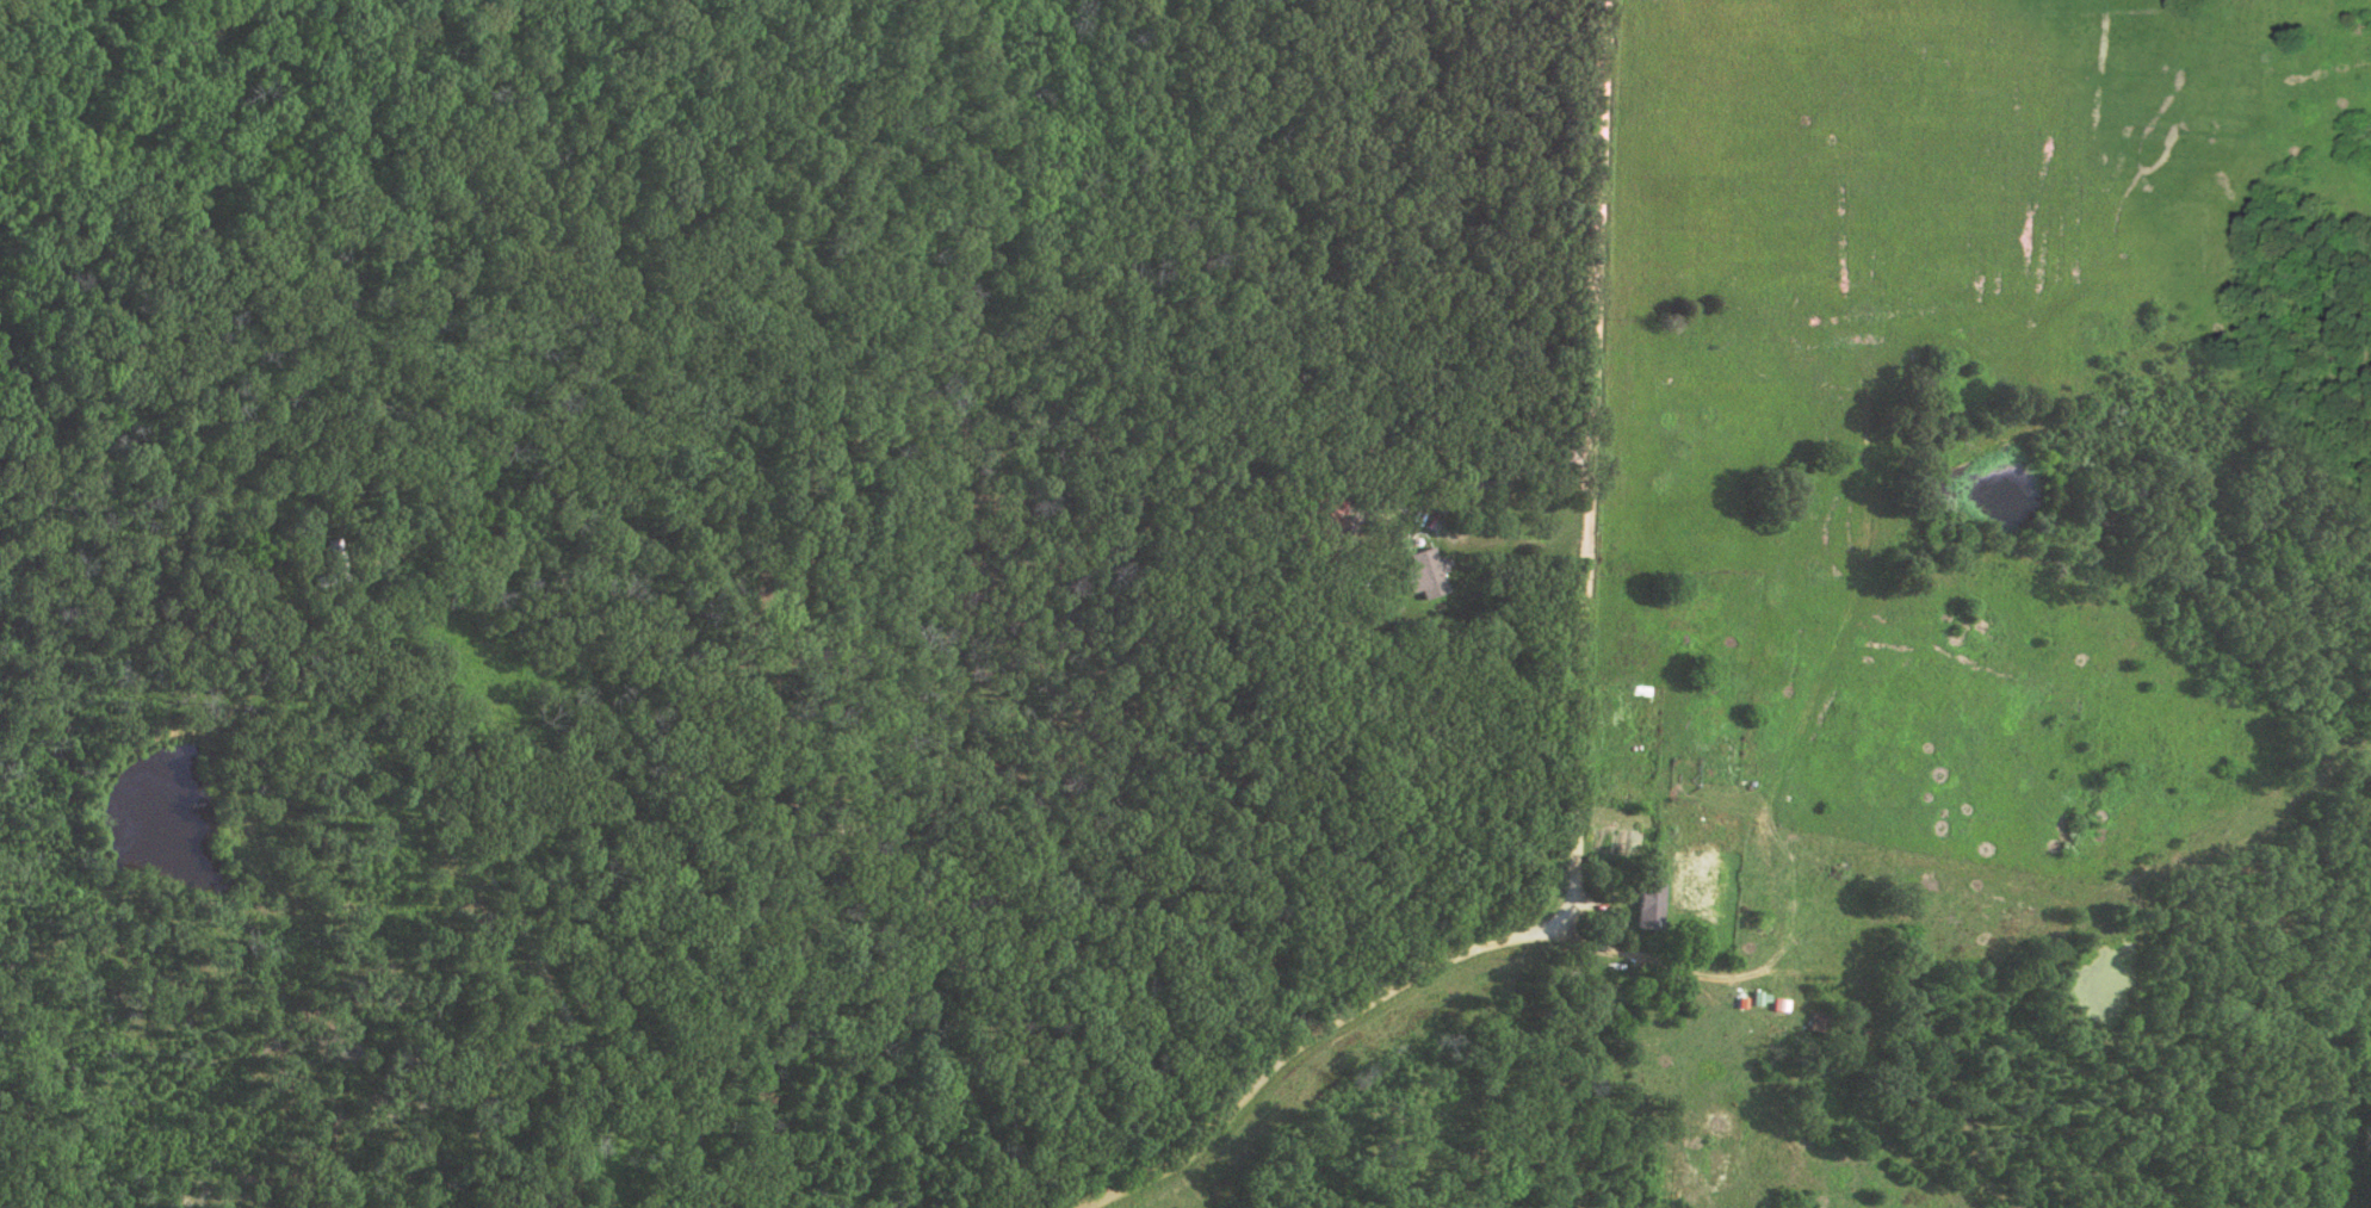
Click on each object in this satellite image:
road: (1583, 741)
building: (1651, 906)
building: (1820, 1023)

